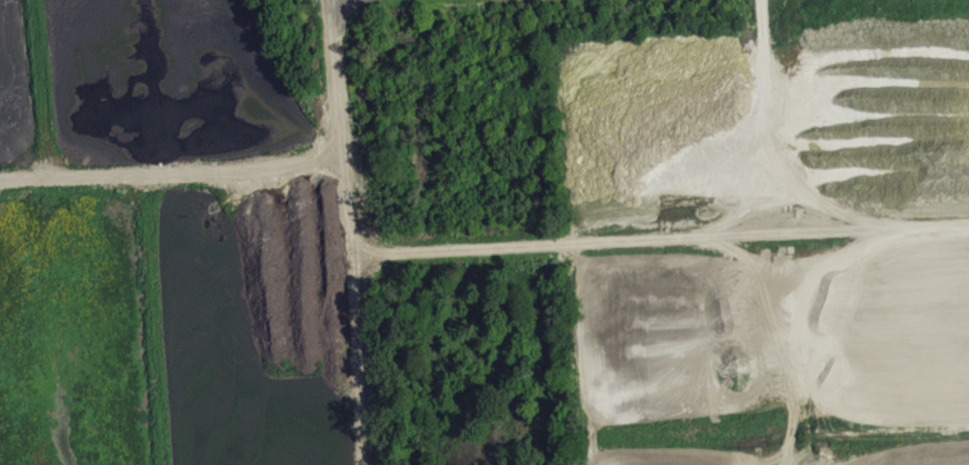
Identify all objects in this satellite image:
road: (170, 168)
road: (348, 232)
road: (659, 237)

